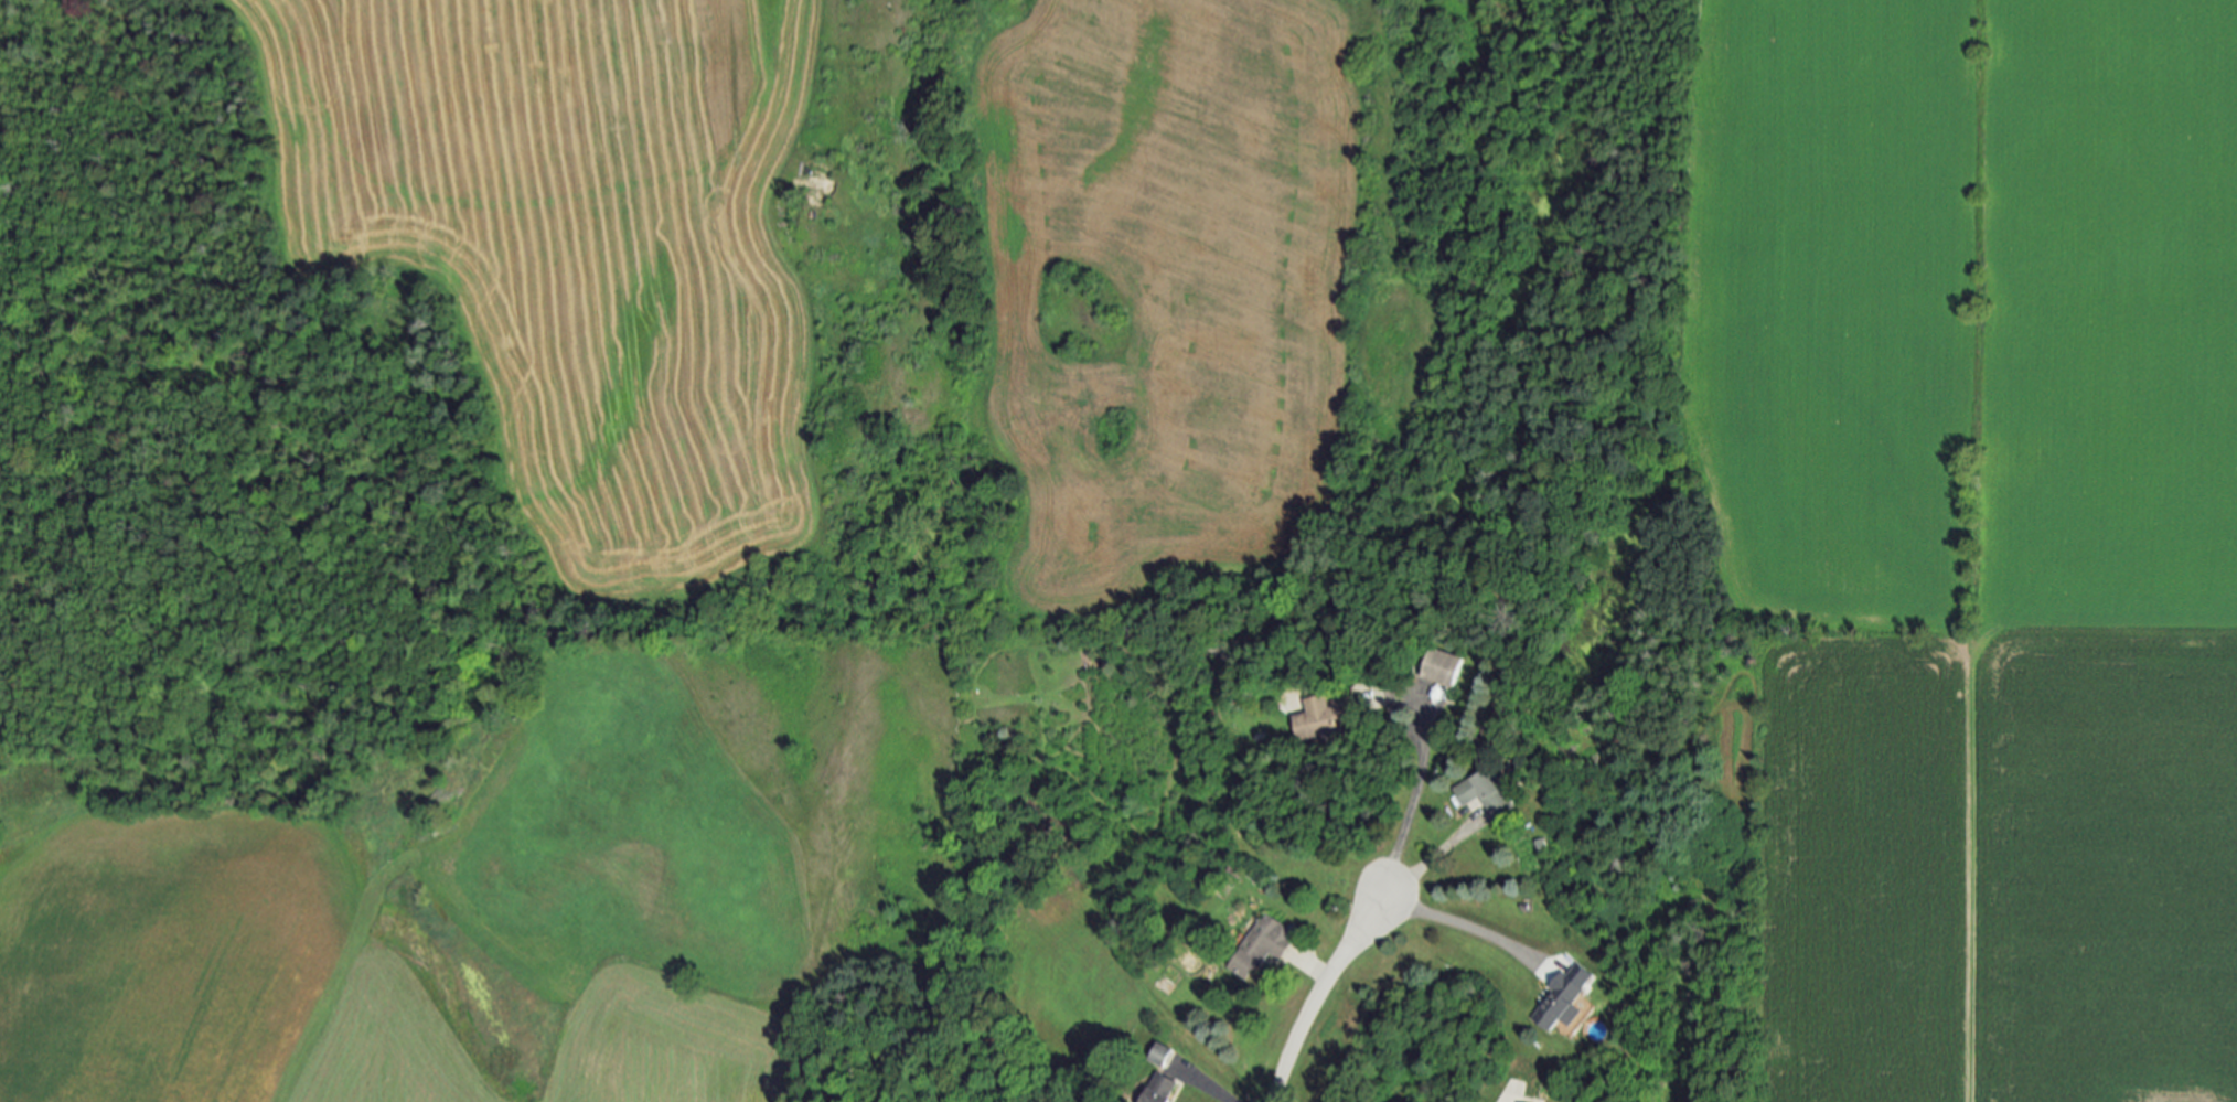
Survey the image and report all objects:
building: (1445, 668)
building: (1327, 716)
building: (1488, 793)
road: (1406, 810)
road: (1415, 910)
building: (1264, 944)
road: (1313, 973)
road: (1316, 995)
building: (1566, 997)
building: (1162, 1088)
road: (1216, 1093)
road: (1509, 1101)

